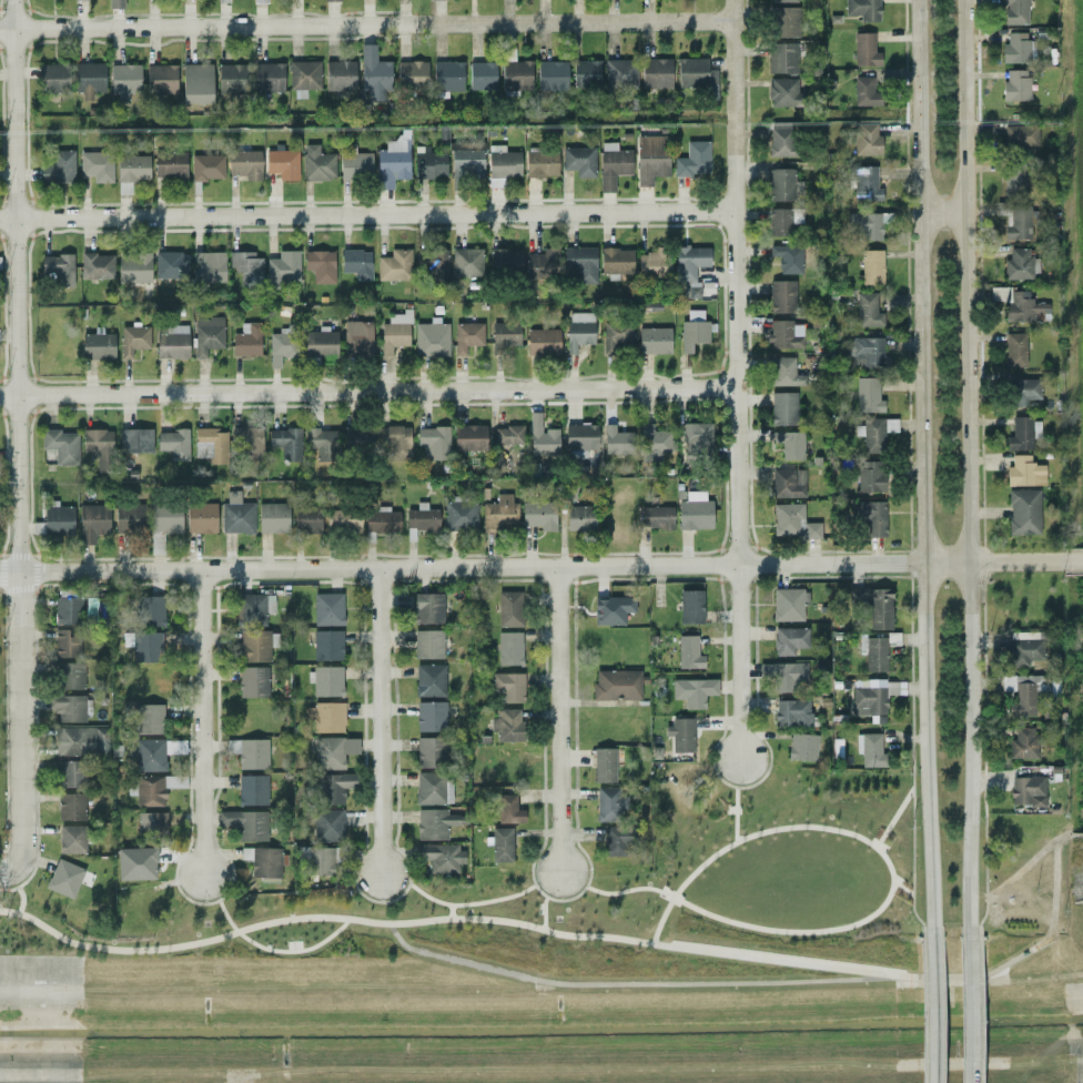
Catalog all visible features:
building: (81, 0)
building: (222, 0)
building: (332, 0)
building: (260, 1)
building: (782, 1)
building: (117, 3)
building: (862, 9)
building: (1014, 11)
building: (785, 21)
road: (365, 24)
building: (1015, 48)
building: (864, 49)
building: (782, 58)
building: (656, 72)
building: (340, 73)
building: (374, 73)
building: (412, 73)
building: (586, 73)
building: (620, 73)
building: (696, 73)
building: (482, 74)
building: (516, 74)
building: (447, 75)
building: (551, 75)
building: (53, 77)
building: (269, 77)
building: (303, 77)
building: (161, 78)
building: (89, 79)
building: (232, 79)
building: (124, 80)
building: (196, 83)
building: (1015, 84)
building: (782, 91)
building: (864, 92)
building: (1020, 136)
building: (781, 139)
building: (866, 139)
building: (651, 158)
building: (692, 159)
building: (393, 161)
building: (579, 161)
building: (428, 162)
building: (466, 162)
building: (503, 162)
building: (540, 162)
building: (170, 163)
building: (244, 163)
building: (282, 163)
building: (317, 163)
building: (613, 164)
building: (97, 165)
building: (355, 165)
building: (59, 166)
building: (206, 166)
building: (131, 171)
building: (1012, 179)
building: (866, 183)
building: (781, 184)
road: (940, 213)
road: (366, 215)
building: (782, 220)
building: (1019, 221)
building: (868, 224)
building: (0, 256)
building: (788, 257)
building: (505, 260)
building: (466, 261)
building: (615, 261)
building: (434, 262)
building: (356, 263)
building: (543, 263)
building: (651, 263)
building: (170, 264)
building: (1020, 264)
building: (55, 265)
building: (97, 265)
building: (321, 265)
building: (394, 265)
building: (133, 266)
building: (209, 266)
building: (246, 266)
building: (283, 266)
building: (871, 266)
building: (691, 269)
building: (782, 295)
building: (1025, 307)
building: (867, 310)
building: (578, 330)
building: (694, 330)
building: (395, 331)
building: (785, 333)
building: (206, 334)
building: (467, 335)
building: (504, 335)
building: (357, 336)
building: (616, 336)
building: (431, 337)
building: (132, 338)
building: (246, 340)
building: (654, 340)
building: (171, 341)
building: (543, 341)
building: (320, 342)
building: (97, 345)
building: (281, 347)
building: (1015, 350)
building: (867, 352)
building: (785, 372)
road: (733, 381)
road: (366, 389)
building: (1024, 391)
building: (868, 394)
building: (783, 407)
building: (874, 432)
building: (1023, 432)
building: (508, 434)
road: (13, 436)
building: (469, 436)
building: (580, 436)
building: (541, 437)
building: (136, 439)
building: (357, 439)
building: (395, 441)
building: (616, 441)
building: (247, 442)
building: (285, 442)
building: (697, 442)
building: (174, 443)
building: (322, 443)
building: (433, 443)
building: (655, 443)
building: (61, 444)
building: (211, 444)
building: (789, 444)
road: (920, 464)
road: (964, 469)
building: (1024, 470)
building: (869, 475)
building: (789, 482)
building: (695, 512)
building: (1023, 512)
building: (499, 513)
building: (459, 515)
building: (538, 515)
building: (872, 516)
building: (130, 517)
building: (165, 517)
building: (201, 517)
building: (273, 517)
building: (422, 517)
building: (579, 517)
building: (655, 517)
building: (326, 519)
building: (58, 520)
building: (381, 520)
building: (92, 522)
building: (792, 522)
road: (1073, 563)
road: (532, 567)
building: (789, 604)
building: (690, 606)
building: (427, 607)
building: (252, 608)
building: (327, 608)
building: (509, 608)
building: (880, 608)
building: (68, 609)
building: (611, 609)
building: (151, 610)
building: (789, 639)
building: (64, 644)
building: (428, 644)
building: (256, 645)
building: (327, 645)
building: (148, 646)
building: (509, 647)
building: (688, 651)
building: (875, 654)
building: (70, 675)
building: (785, 676)
building: (429, 679)
building: (325, 680)
building: (253, 681)
building: (617, 685)
building: (509, 686)
building: (692, 690)
building: (1022, 694)
building: (873, 697)
building: (69, 707)
building: (792, 712)
building: (326, 716)
building: (431, 716)
building: (150, 718)
road: (376, 722)
road: (204, 723)
building: (507, 723)
road: (559, 723)
building: (681, 733)
building: (81, 740)
building: (1022, 742)
building: (802, 747)
building: (870, 749)
building: (333, 751)
building: (431, 751)
building: (155, 752)
building: (249, 752)
building: (604, 765)
building: (71, 773)
building: (335, 787)
building: (433, 788)
building: (252, 789)
building: (148, 790)
building: (1026, 790)
building: (609, 803)
building: (71, 806)
building: (508, 809)
road: (735, 813)
road: (894, 817)
building: (245, 822)
building: (435, 822)
building: (151, 824)
building: (327, 824)
road: (1012, 833)
road: (1076, 836)
building: (72, 839)
building: (617, 840)
building: (502, 843)
building: (441, 857)
building: (263, 861)
building: (135, 862)
road: (7, 873)
building: (64, 878)
road: (889, 889)
road: (21, 899)
road: (469, 903)
road: (451, 911)
road: (543, 912)
road: (1052, 920)
road: (536, 928)
road: (276, 950)
road: (629, 983)
road: (932, 1005)
road: (969, 1011)
river: (540, 1024)

